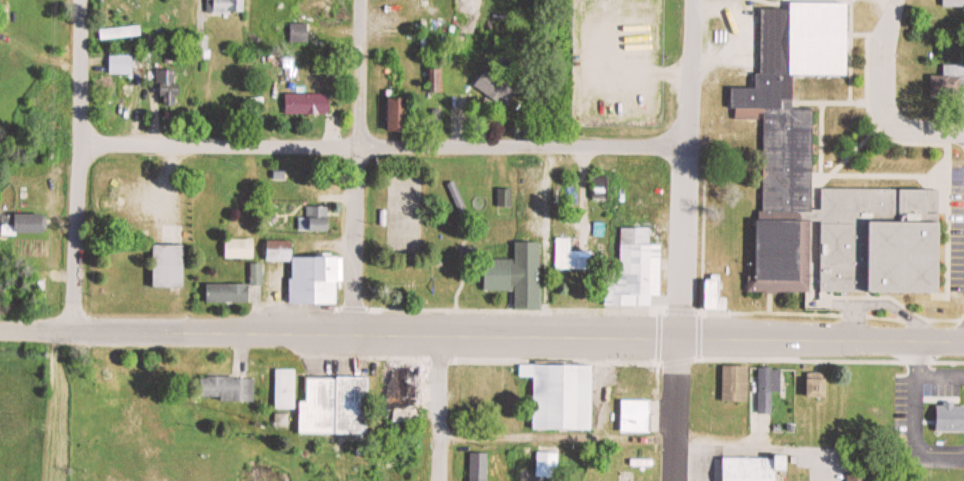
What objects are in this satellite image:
building: (952, 3)
building: (227, 6)
building: (317, 10)
building: (300, 33)
road: (887, 52)
building: (122, 64)
building: (950, 81)
building: (170, 89)
building: (499, 90)
building: (308, 104)
building: (401, 115)
road: (925, 125)
road: (384, 142)
building: (789, 152)
road: (80, 164)
road: (356, 164)
building: (601, 188)
building: (504, 202)
building: (317, 219)
building: (33, 224)
road: (683, 240)
building: (241, 249)
building: (571, 257)
building: (172, 267)
building: (639, 271)
building: (520, 276)
building: (319, 280)
building: (236, 289)
building: (716, 296)
road: (482, 331)
building: (737, 385)
building: (820, 386)
building: (287, 388)
building: (228, 389)
building: (770, 389)
building: (408, 390)
building: (563, 397)
building: (338, 404)
road: (438, 406)
building: (638, 417)
building: (479, 466)
building: (756, 469)
building: (859, 477)

